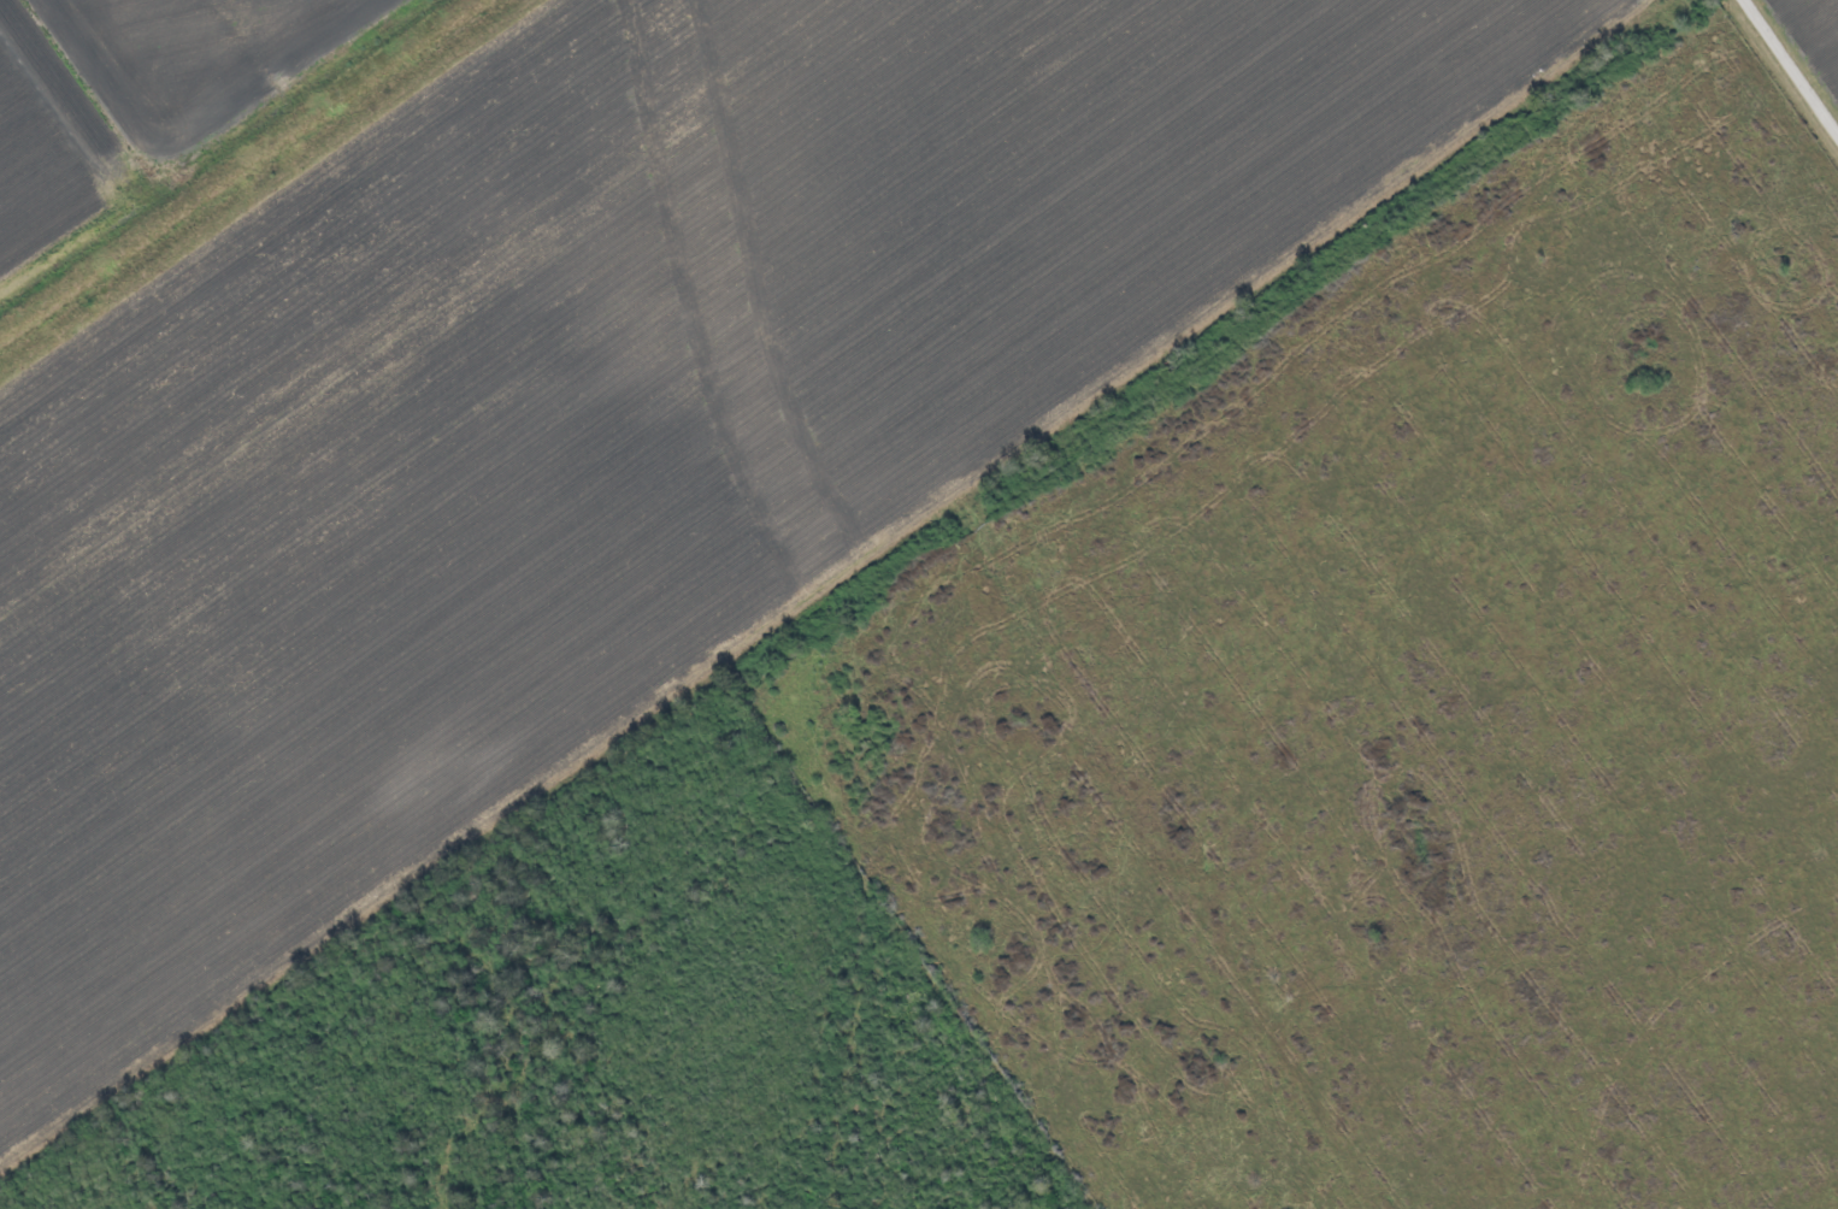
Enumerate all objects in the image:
road: (1793, 61)

